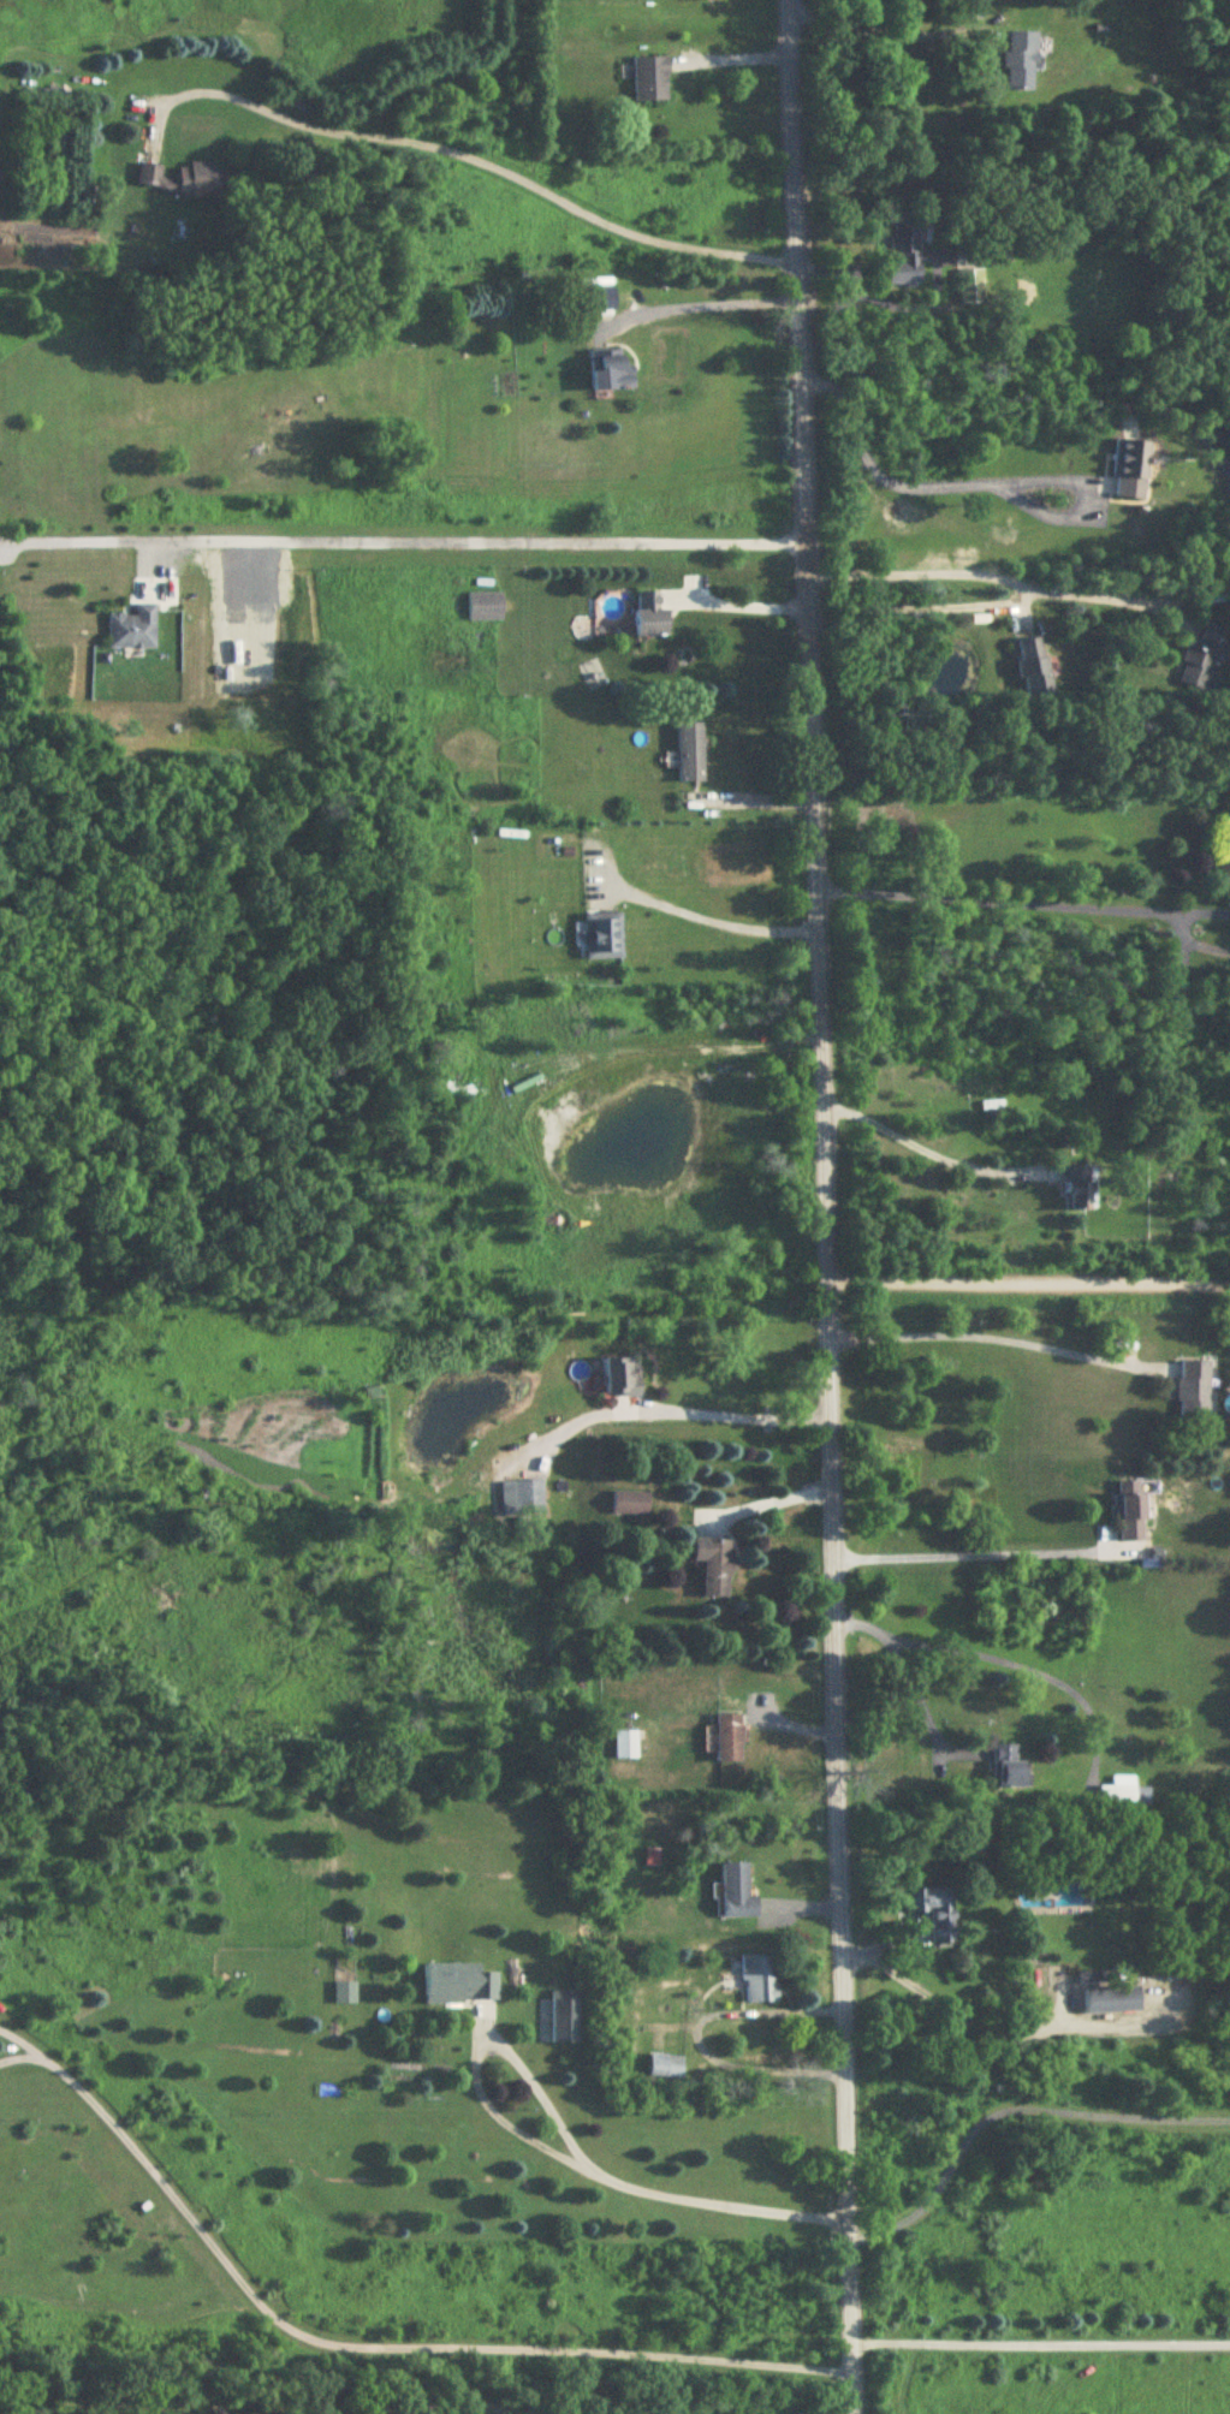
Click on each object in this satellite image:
road: (886, 36)
building: (1021, 63)
building: (652, 79)
road: (487, 161)
building: (183, 182)
building: (905, 251)
building: (970, 287)
building: (601, 301)
road: (690, 305)
building: (612, 373)
building: (1131, 470)
road: (914, 482)
road: (400, 539)
road: (996, 571)
road: (920, 599)
road: (739, 600)
building: (485, 607)
building: (650, 616)
building: (132, 630)
building: (1200, 656)
building: (1034, 670)
building: (690, 754)
road: (747, 801)
road: (994, 896)
road: (705, 915)
building: (604, 937)
road: (919, 1142)
building: (1079, 1189)
road: (821, 1206)
road: (1026, 1283)
road: (987, 1333)
building: (622, 1377)
building: (1195, 1392)
road: (676, 1409)
building: (522, 1498)
building: (632, 1503)
road: (765, 1503)
building: (1133, 1511)
road: (964, 1556)
building: (717, 1565)
road: (1026, 1670)
road: (910, 1683)
building: (731, 1740)
building: (625, 1746)
building: (1010, 1768)
building: (1124, 1794)
building: (737, 1893)
building: (938, 1911)
building: (1097, 1978)
building: (759, 1980)
building: (460, 1984)
building: (345, 1993)
building: (1113, 2000)
road: (956, 2016)
building: (566, 2017)
road: (695, 2038)
road: (22, 2039)
road: (19, 2053)
building: (666, 2067)
road: (1011, 2101)
road: (554, 2145)
road: (1039, 2338)
road: (382, 2344)

